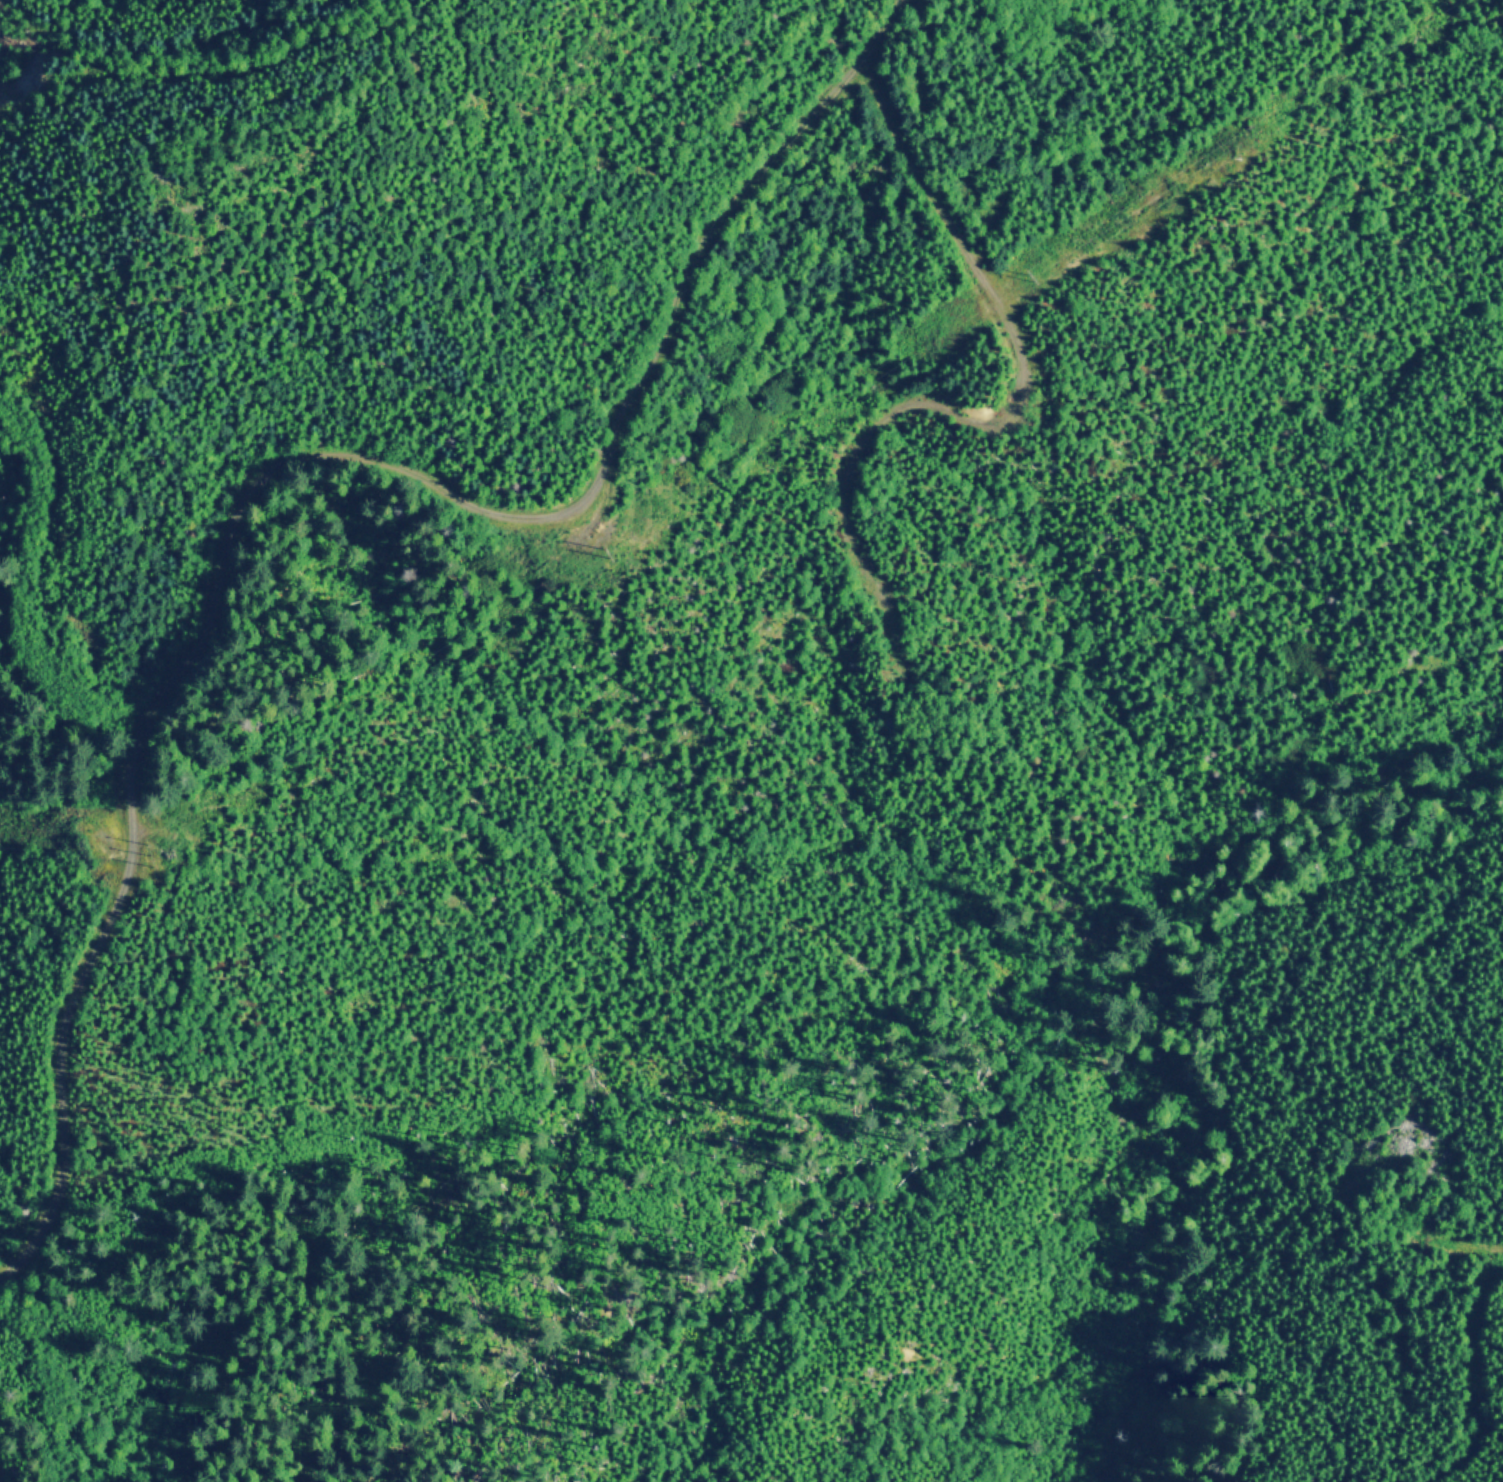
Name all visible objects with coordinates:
road: (325, 33)
road: (1007, 420)
road: (300, 459)
road: (20, 598)
road: (19, 1235)
road: (1444, 1241)
road: (1470, 1381)
road: (0, 1481)

